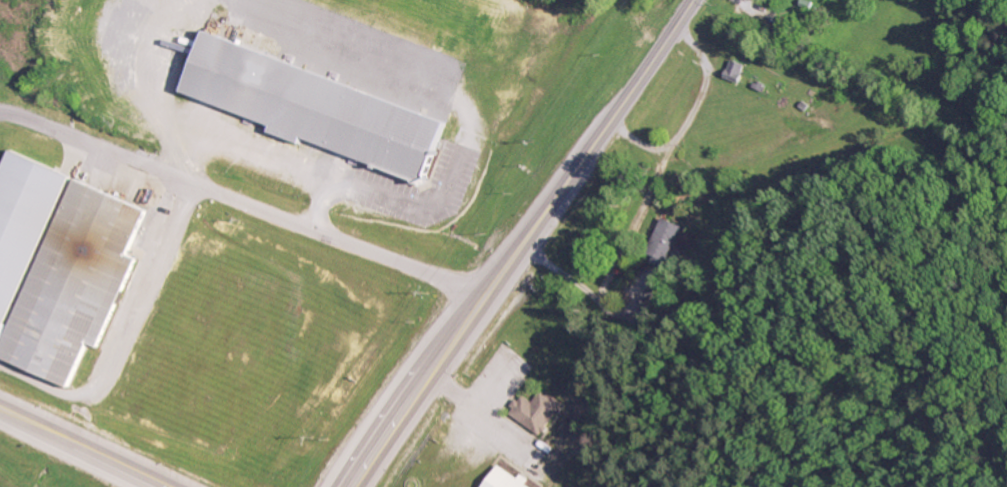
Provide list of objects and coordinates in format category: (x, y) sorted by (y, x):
building: (734, 71)
building: (316, 107)
road: (555, 199)
road: (245, 200)
building: (662, 241)
building: (58, 264)
building: (536, 411)
road: (384, 442)
road: (85, 446)
building: (505, 479)

